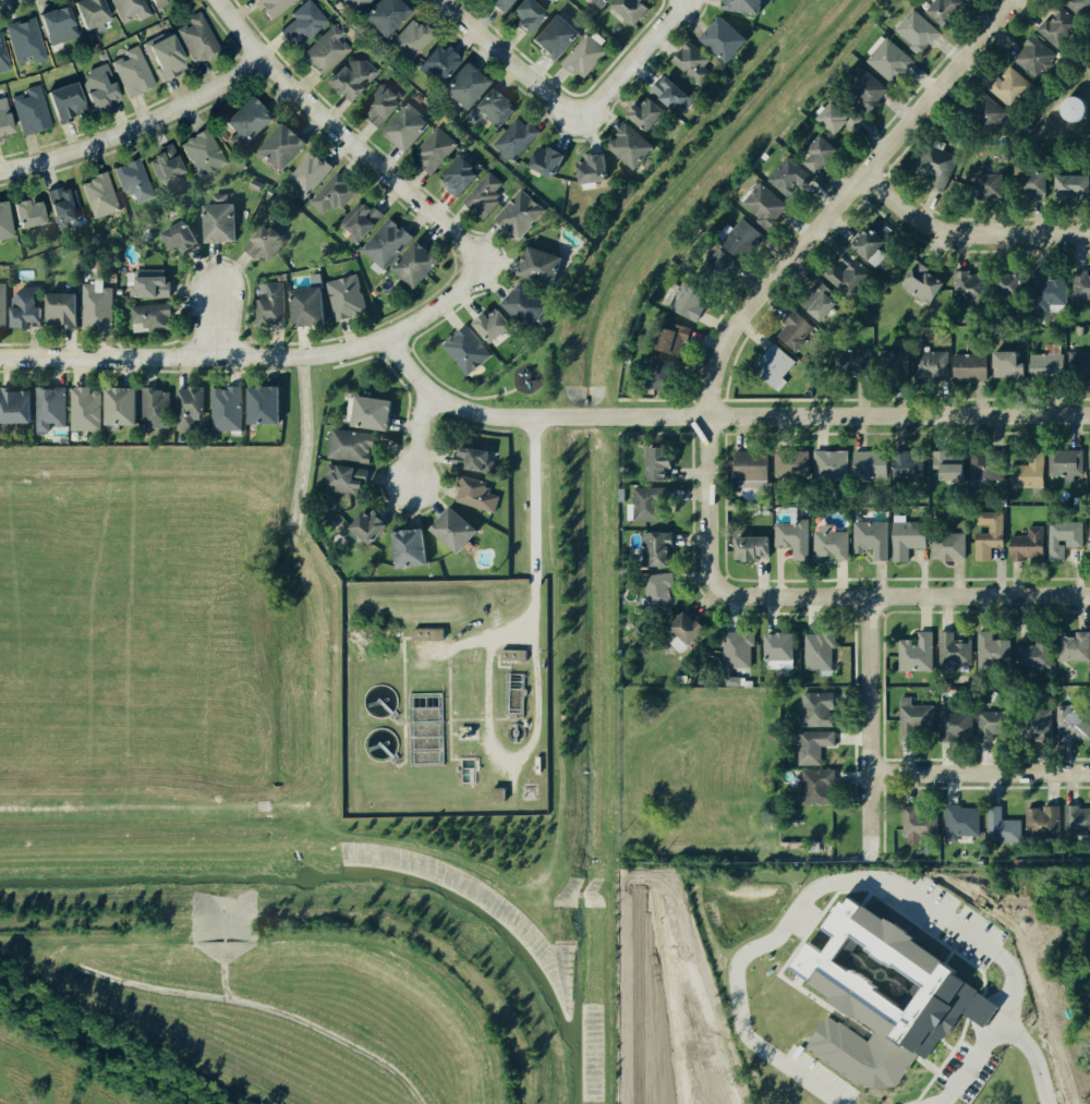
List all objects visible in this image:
building: (604, 2)
building: (162, 3)
building: (360, 4)
building: (506, 4)
building: (278, 5)
building: (741, 5)
building: (1082, 5)
building: (635, 9)
building: (134, 10)
building: (950, 10)
building: (533, 15)
building: (390, 16)
building: (306, 25)
building: (62, 27)
building: (1059, 29)
building: (919, 32)
building: (560, 36)
building: (202, 39)
building: (415, 39)
building: (728, 39)
building: (28, 41)
building: (328, 52)
building: (4, 54)
building: (168, 56)
building: (588, 56)
road: (629, 57)
building: (1035, 57)
road: (506, 60)
building: (892, 61)
building: (443, 63)
building: (695, 64)
building: (136, 73)
building: (358, 78)
building: (868, 83)
building: (471, 87)
building: (104, 88)
building: (1010, 88)
building: (674, 93)
building: (71, 102)
building: (383, 105)
building: (498, 108)
building: (34, 111)
building: (651, 114)
building: (992, 117)
building: (843, 118)
building: (7, 120)
building: (253, 120)
road: (137, 126)
building: (409, 128)
road: (342, 136)
building: (517, 139)
building: (286, 146)
building: (634, 146)
building: (435, 150)
building: (206, 154)
building: (824, 154)
building: (549, 160)
building: (169, 167)
building: (940, 167)
building: (595, 169)
building: (310, 174)
building: (461, 175)
building: (791, 178)
building: (134, 181)
building: (1037, 182)
building: (254, 184)
building: (994, 185)
building: (1075, 185)
building: (335, 194)
building: (485, 195)
building: (101, 196)
building: (767, 207)
building: (65, 208)
building: (521, 214)
building: (34, 215)
building: (221, 220)
building: (361, 221)
building: (7, 222)
road: (966, 233)
building: (744, 238)
building: (182, 239)
building: (264, 242)
building: (876, 243)
building: (387, 245)
building: (723, 257)
road: (786, 260)
building: (420, 265)
building: (544, 266)
building: (850, 277)
building: (925, 283)
building: (1015, 283)
building: (972, 286)
building: (1081, 286)
building: (1052, 294)
building: (347, 298)
building: (691, 302)
building: (823, 302)
building: (529, 305)
building: (3, 306)
building: (98, 306)
building: (311, 306)
building: (271, 307)
building: (28, 308)
building: (63, 310)
building: (154, 318)
road: (215, 323)
building: (494, 325)
building: (797, 331)
building: (678, 339)
building: (468, 350)
road: (254, 357)
building: (895, 362)
building: (1050, 363)
building: (1079, 364)
building: (777, 365)
building: (932, 365)
building: (1009, 366)
building: (971, 367)
park: (522, 373)
building: (667, 376)
building: (268, 404)
building: (17, 407)
building: (124, 407)
building: (51, 408)
building: (192, 408)
building: (158, 409)
building: (226, 409)
building: (87, 410)
road: (460, 410)
building: (376, 413)
road: (852, 414)
road: (592, 416)
road: (416, 439)
building: (353, 446)
building: (475, 460)
building: (663, 463)
building: (794, 464)
building: (869, 464)
building: (1067, 464)
building: (833, 465)
building: (950, 466)
building: (909, 469)
building: (753, 470)
building: (1029, 474)
building: (347, 480)
building: (475, 494)
road: (530, 499)
building: (651, 504)
building: (372, 526)
building: (452, 531)
building: (990, 535)
building: (796, 538)
building: (1065, 538)
building: (874, 539)
building: (910, 539)
building: (833, 545)
building: (1030, 545)
building: (949, 547)
building: (412, 548)
building: (756, 548)
building: (661, 549)
building: (661, 591)
road: (898, 594)
road: (529, 599)
road: (505, 629)
building: (688, 632)
building: (427, 633)
building: (1076, 647)
building: (995, 650)
building: (783, 652)
building: (956, 652)
building: (918, 654)
building: (512, 655)
building: (1037, 656)
road: (530, 682)
road: (483, 700)
building: (819, 711)
building: (916, 718)
building: (996, 723)
building: (1074, 723)
building: (1042, 725)
building: (958, 726)
road: (868, 727)
building: (815, 747)
road: (508, 753)
road: (979, 773)
building: (820, 787)
building: (497, 796)
building: (964, 822)
building: (1078, 822)
building: (920, 824)
building: (1045, 824)
building: (1004, 828)
road: (851, 878)
building: (881, 998)
building: (985, 1010)
road: (1029, 1057)

